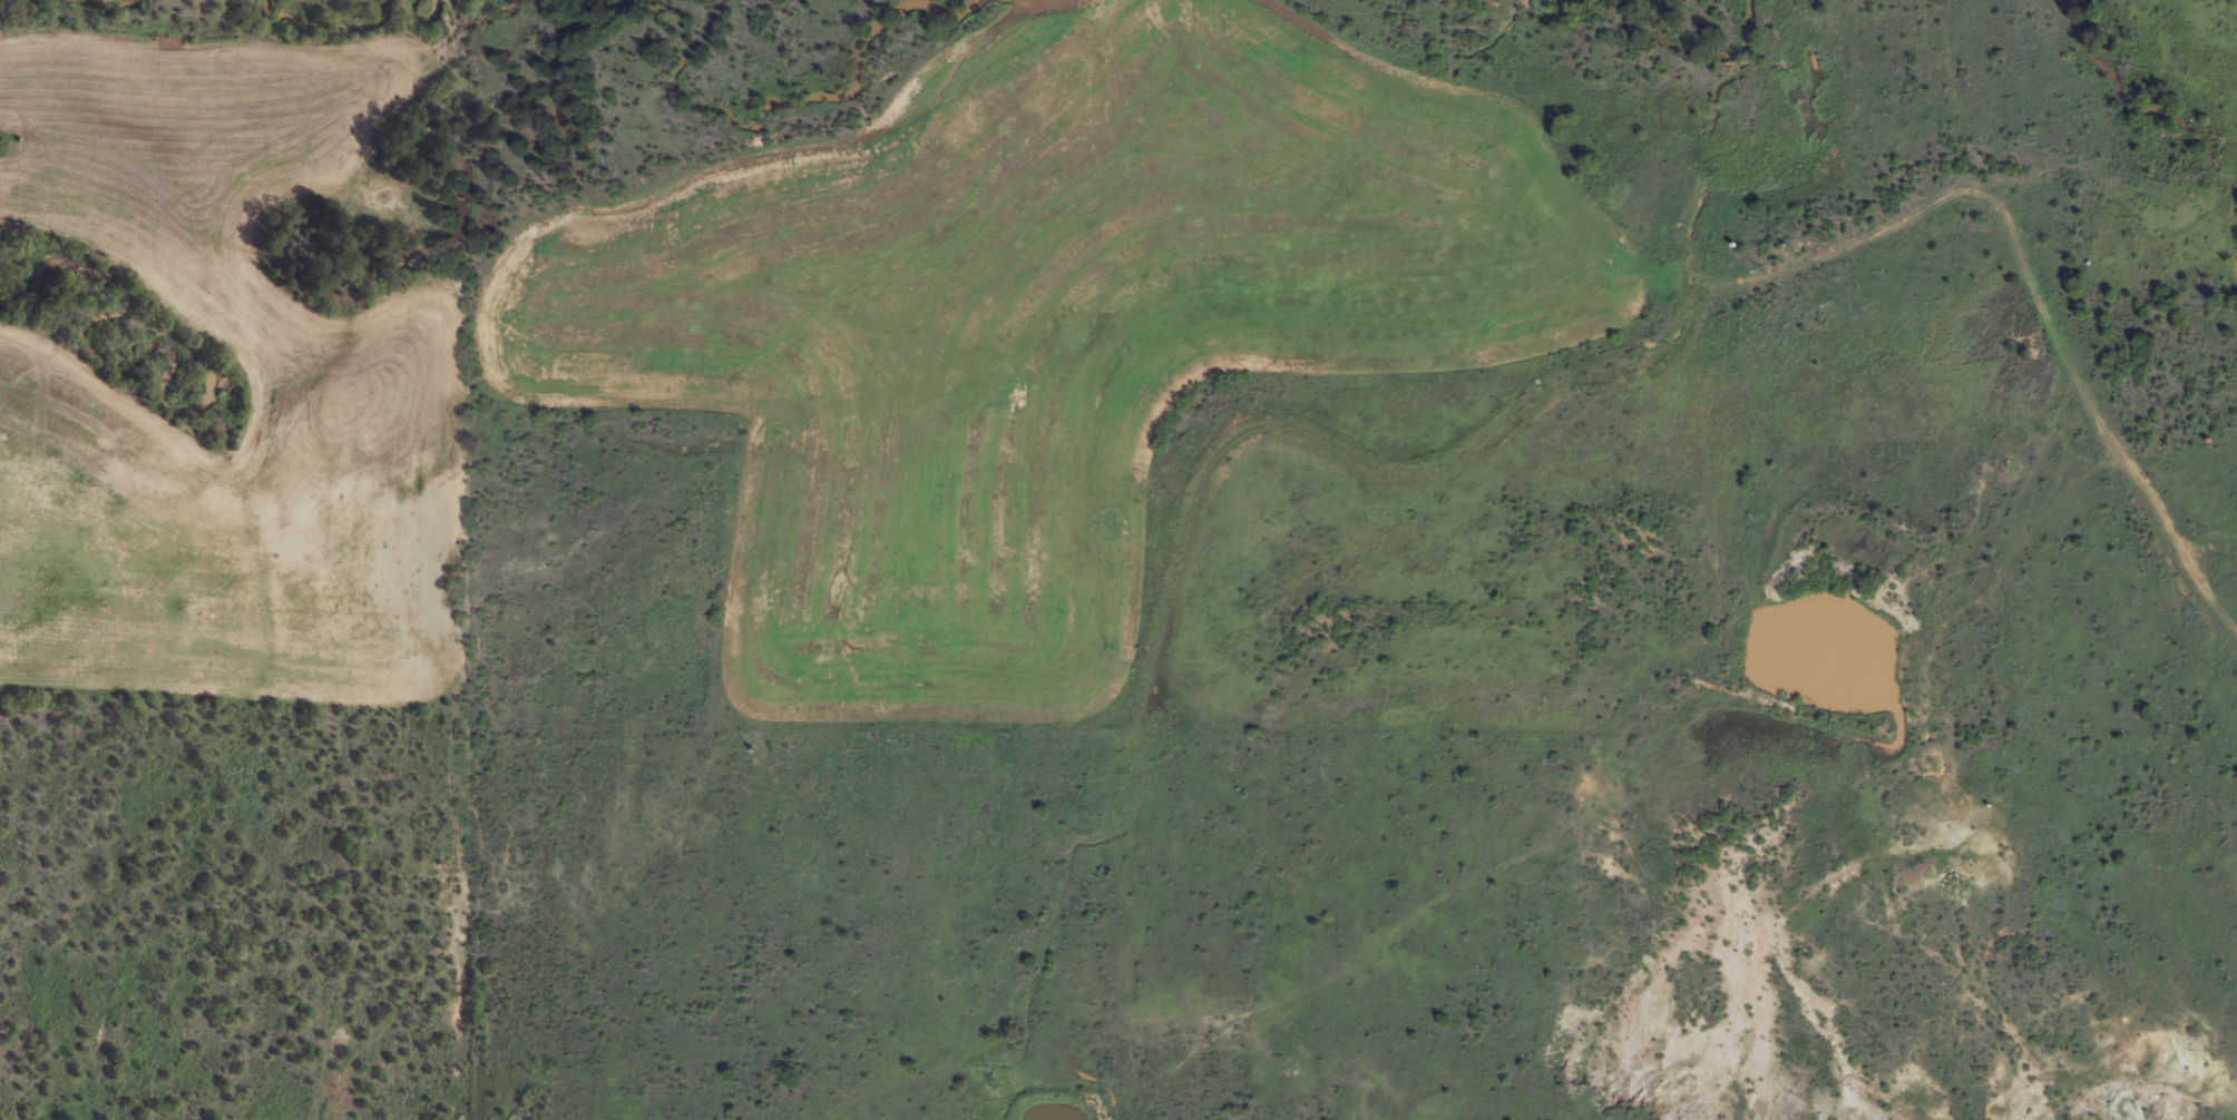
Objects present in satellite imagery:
road: (2042, 358)

